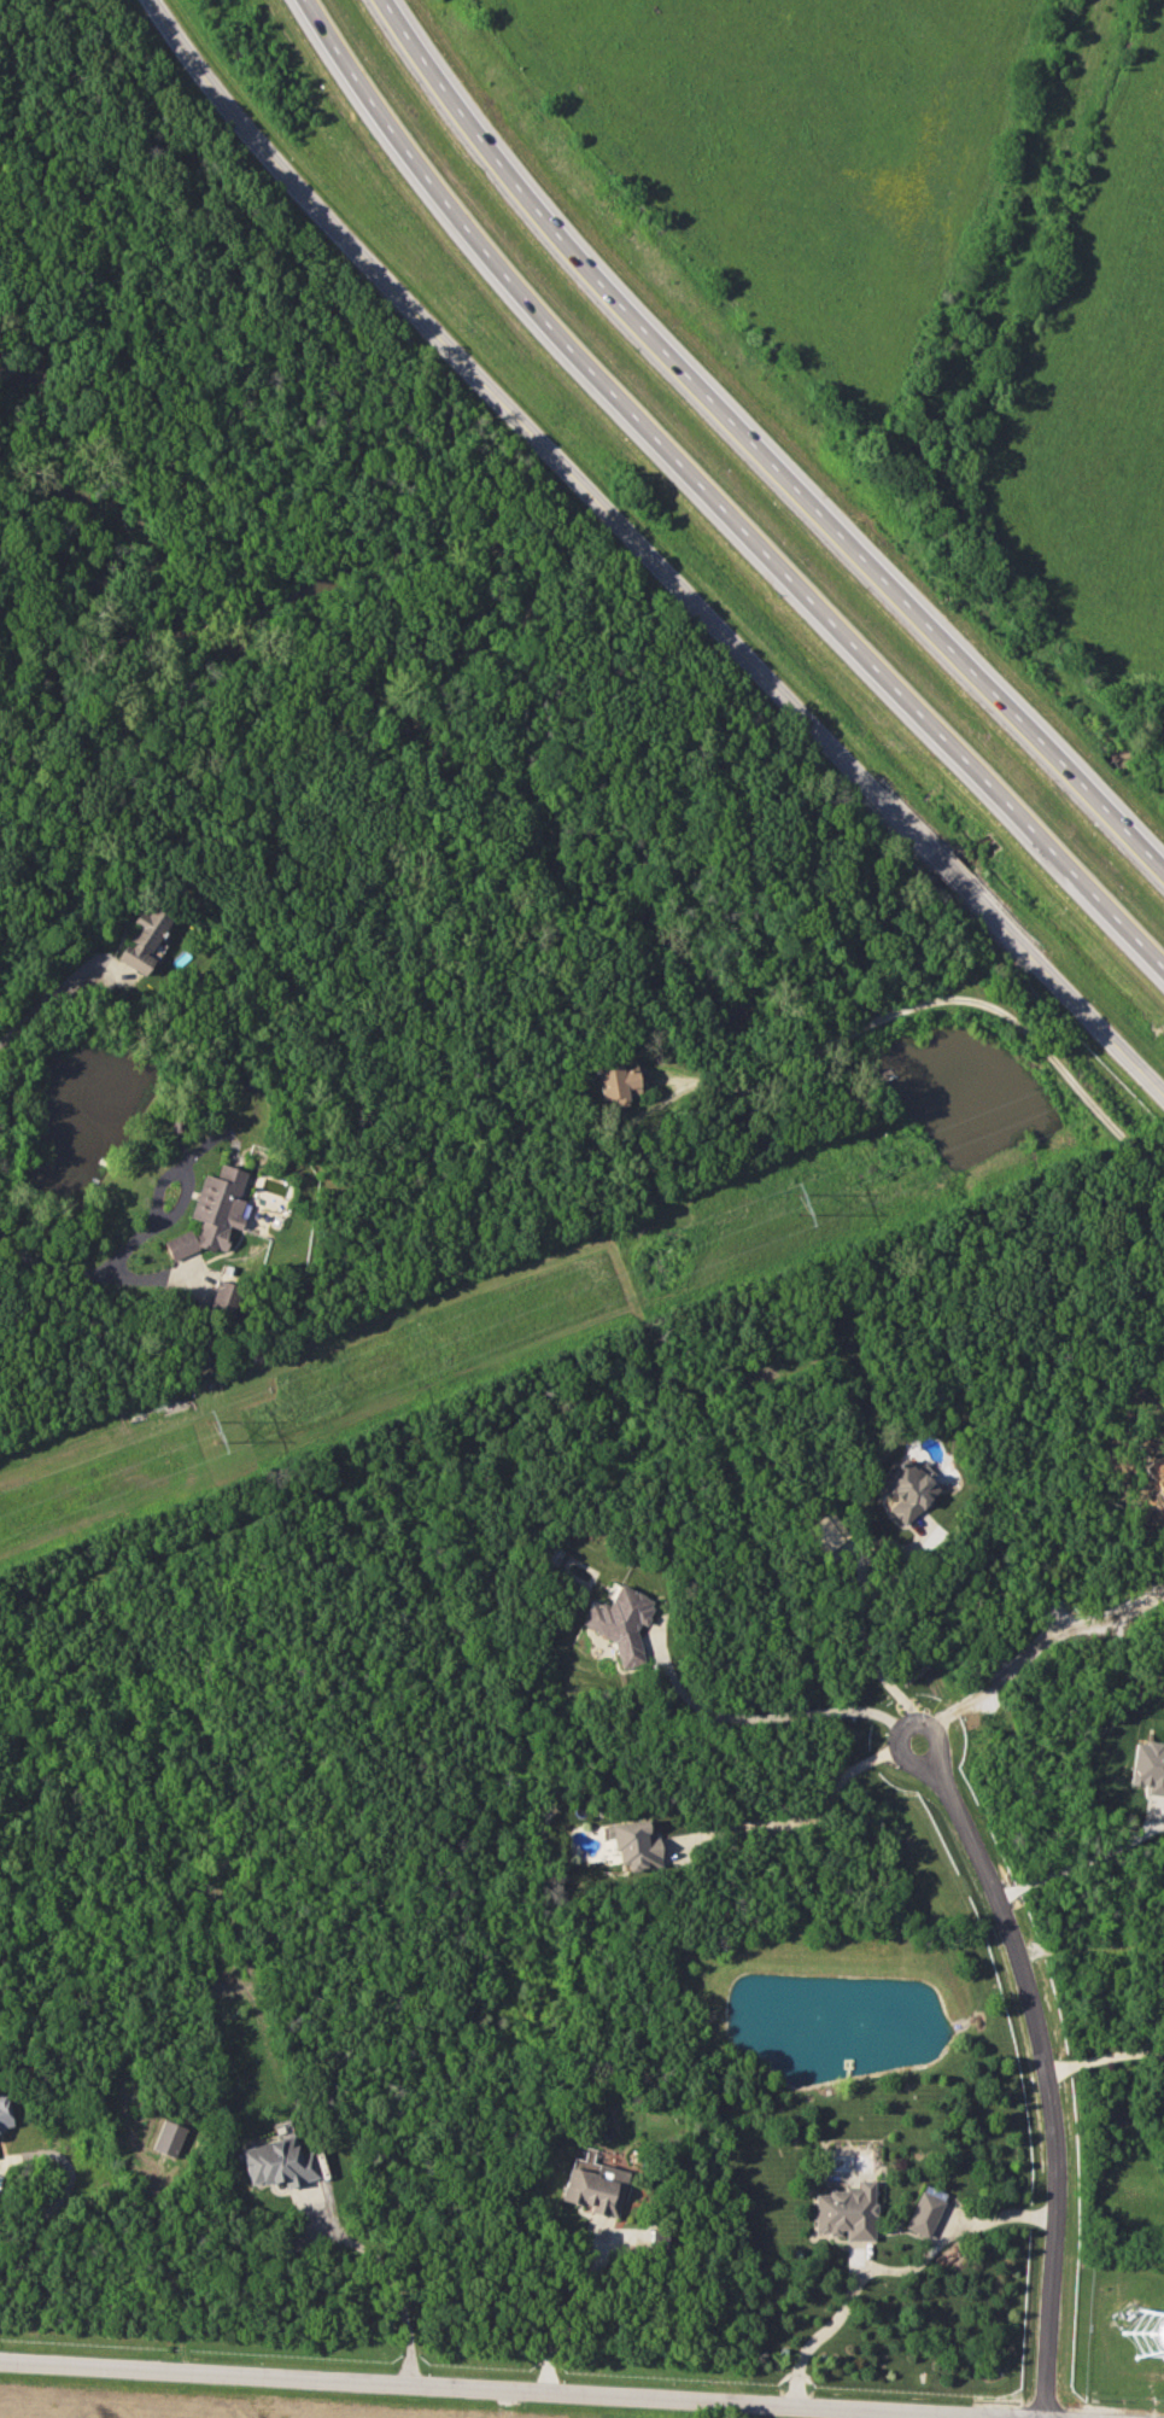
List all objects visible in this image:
road: (534, 432)
road: (760, 438)
road: (720, 495)
road: (949, 868)
building: (140, 939)
road: (1064, 988)
road: (944, 997)
road: (39, 1007)
building: (618, 1081)
road: (182, 1173)
power tower: (800, 1201)
building: (211, 1213)
road: (78, 1272)
building: (223, 1296)
power tower: (221, 1421)
building: (907, 1488)
building: (825, 1532)
building: (620, 1622)
road: (1039, 1645)
road: (865, 1647)
road: (758, 1716)
road: (903, 1722)
building: (1148, 1766)
road: (796, 1816)
building: (634, 1844)
road: (1080, 1847)
road: (1104, 2054)
road: (1047, 2085)
building: (4, 2112)
building: (169, 2137)
building: (277, 2162)
road: (1, 2178)
building: (598, 2190)
road: (54, 2202)
building: (847, 2212)
building: (924, 2213)
road: (887, 2270)
road: (392, 2279)
road: (568, 2313)
road: (507, 2394)

